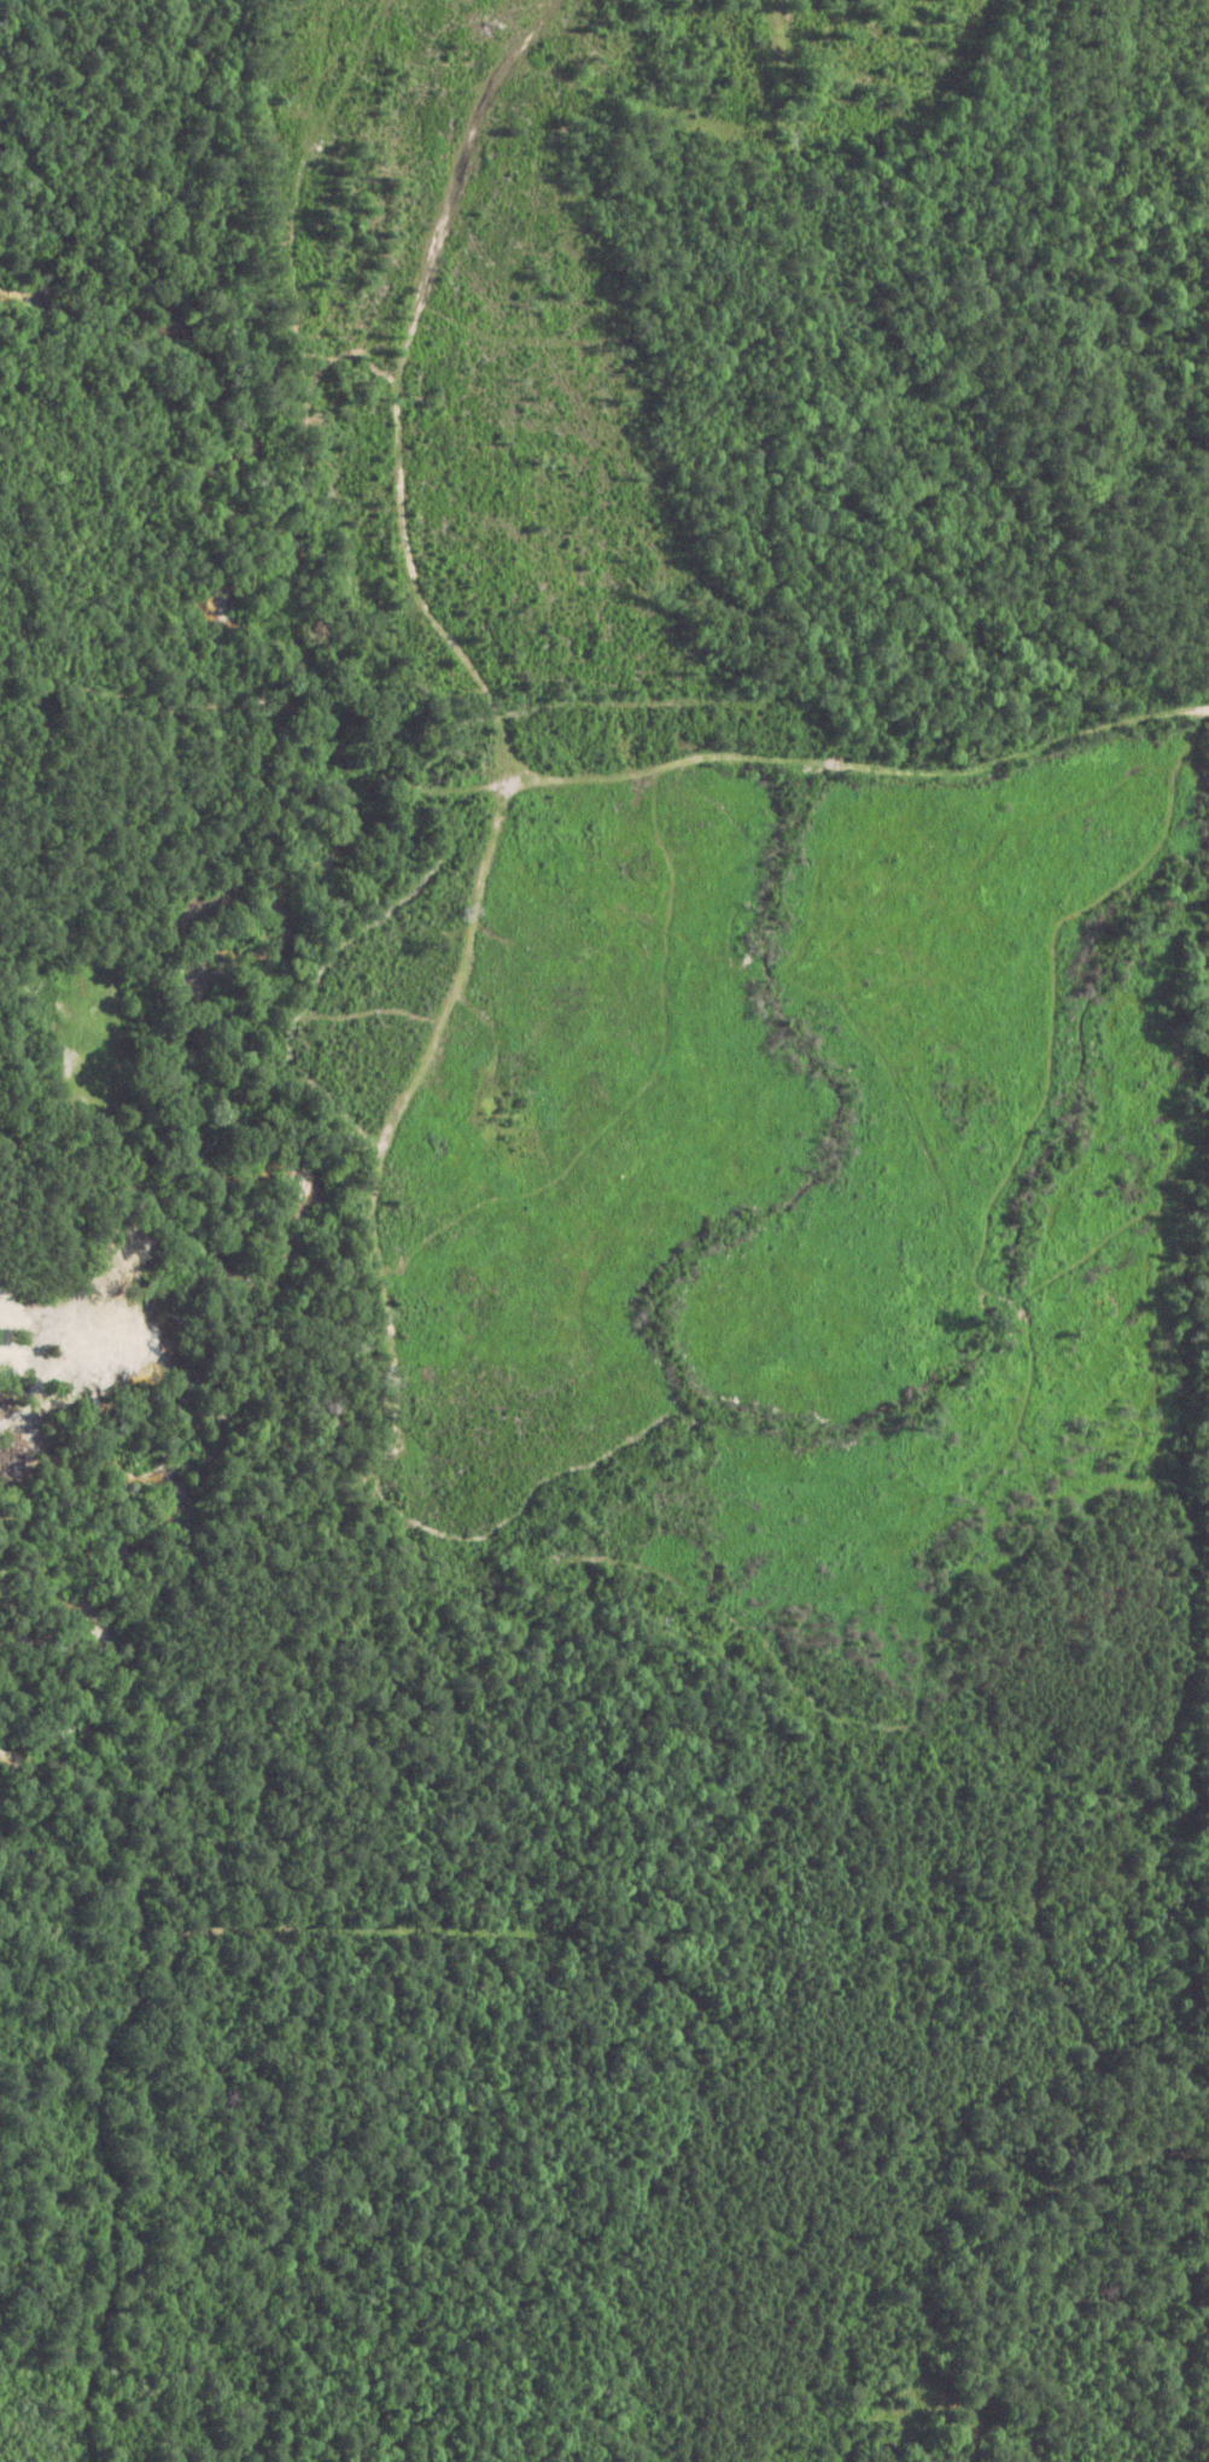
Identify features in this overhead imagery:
river: (179, 1043)

